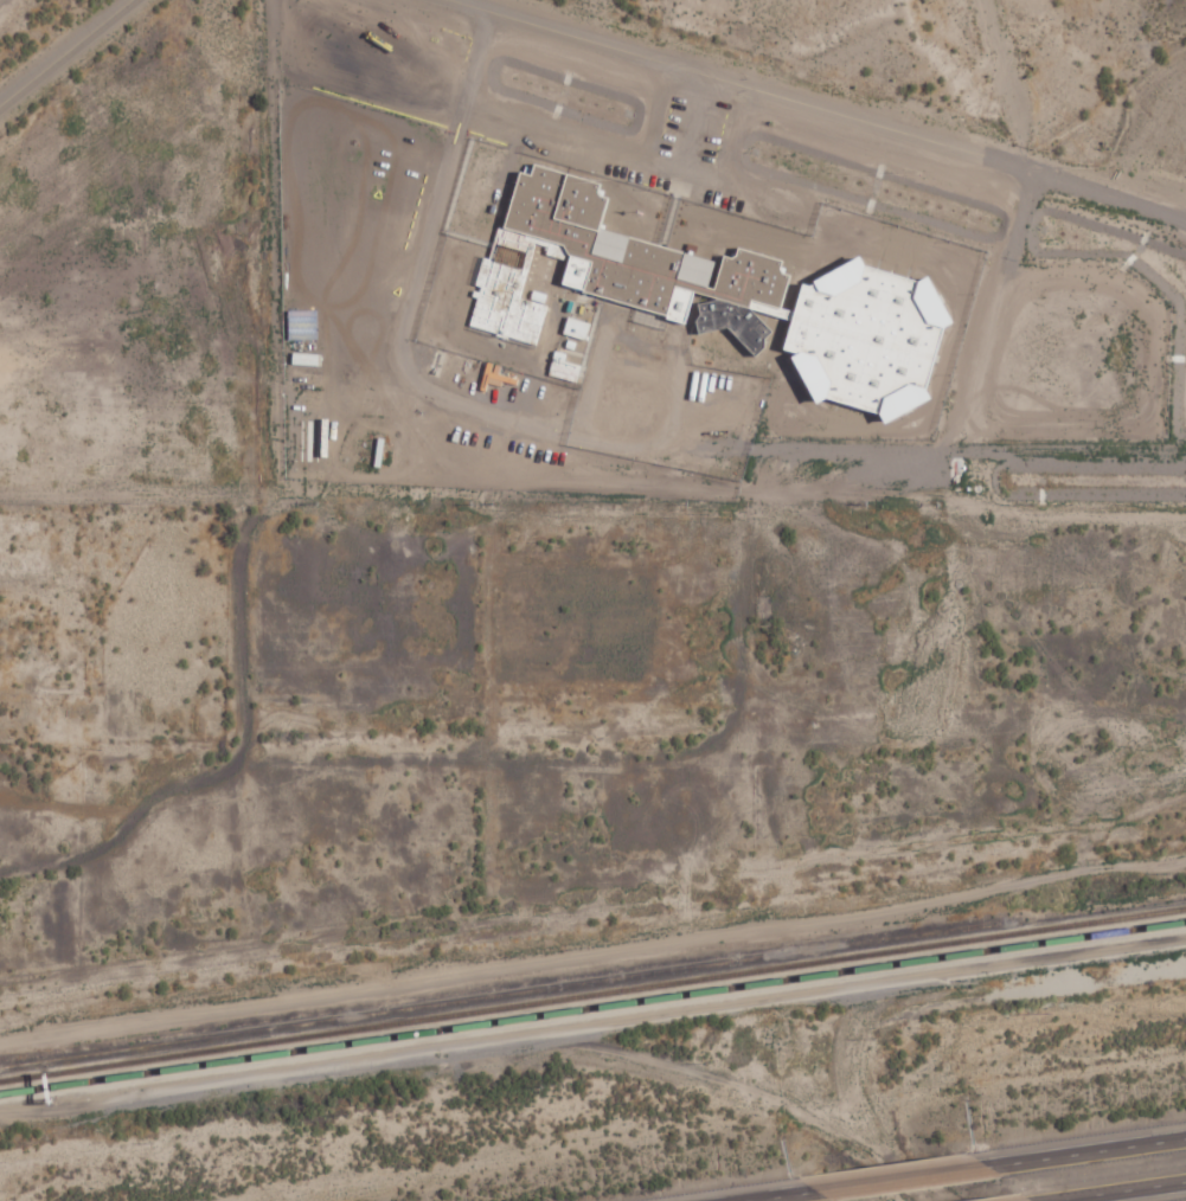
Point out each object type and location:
road: (94, 45)
road: (28, 114)
building: (749, 295)
building: (506, 303)
building: (303, 325)
building: (577, 328)
building: (565, 368)
road: (115, 494)
railway: (1109, 918)
railway: (487, 993)
railway: (515, 1003)
railway: (592, 1006)
railway: (492, 1033)
road: (592, 1067)
road: (1089, 1152)
road: (905, 1181)
road: (1122, 1192)
road: (795, 1197)

